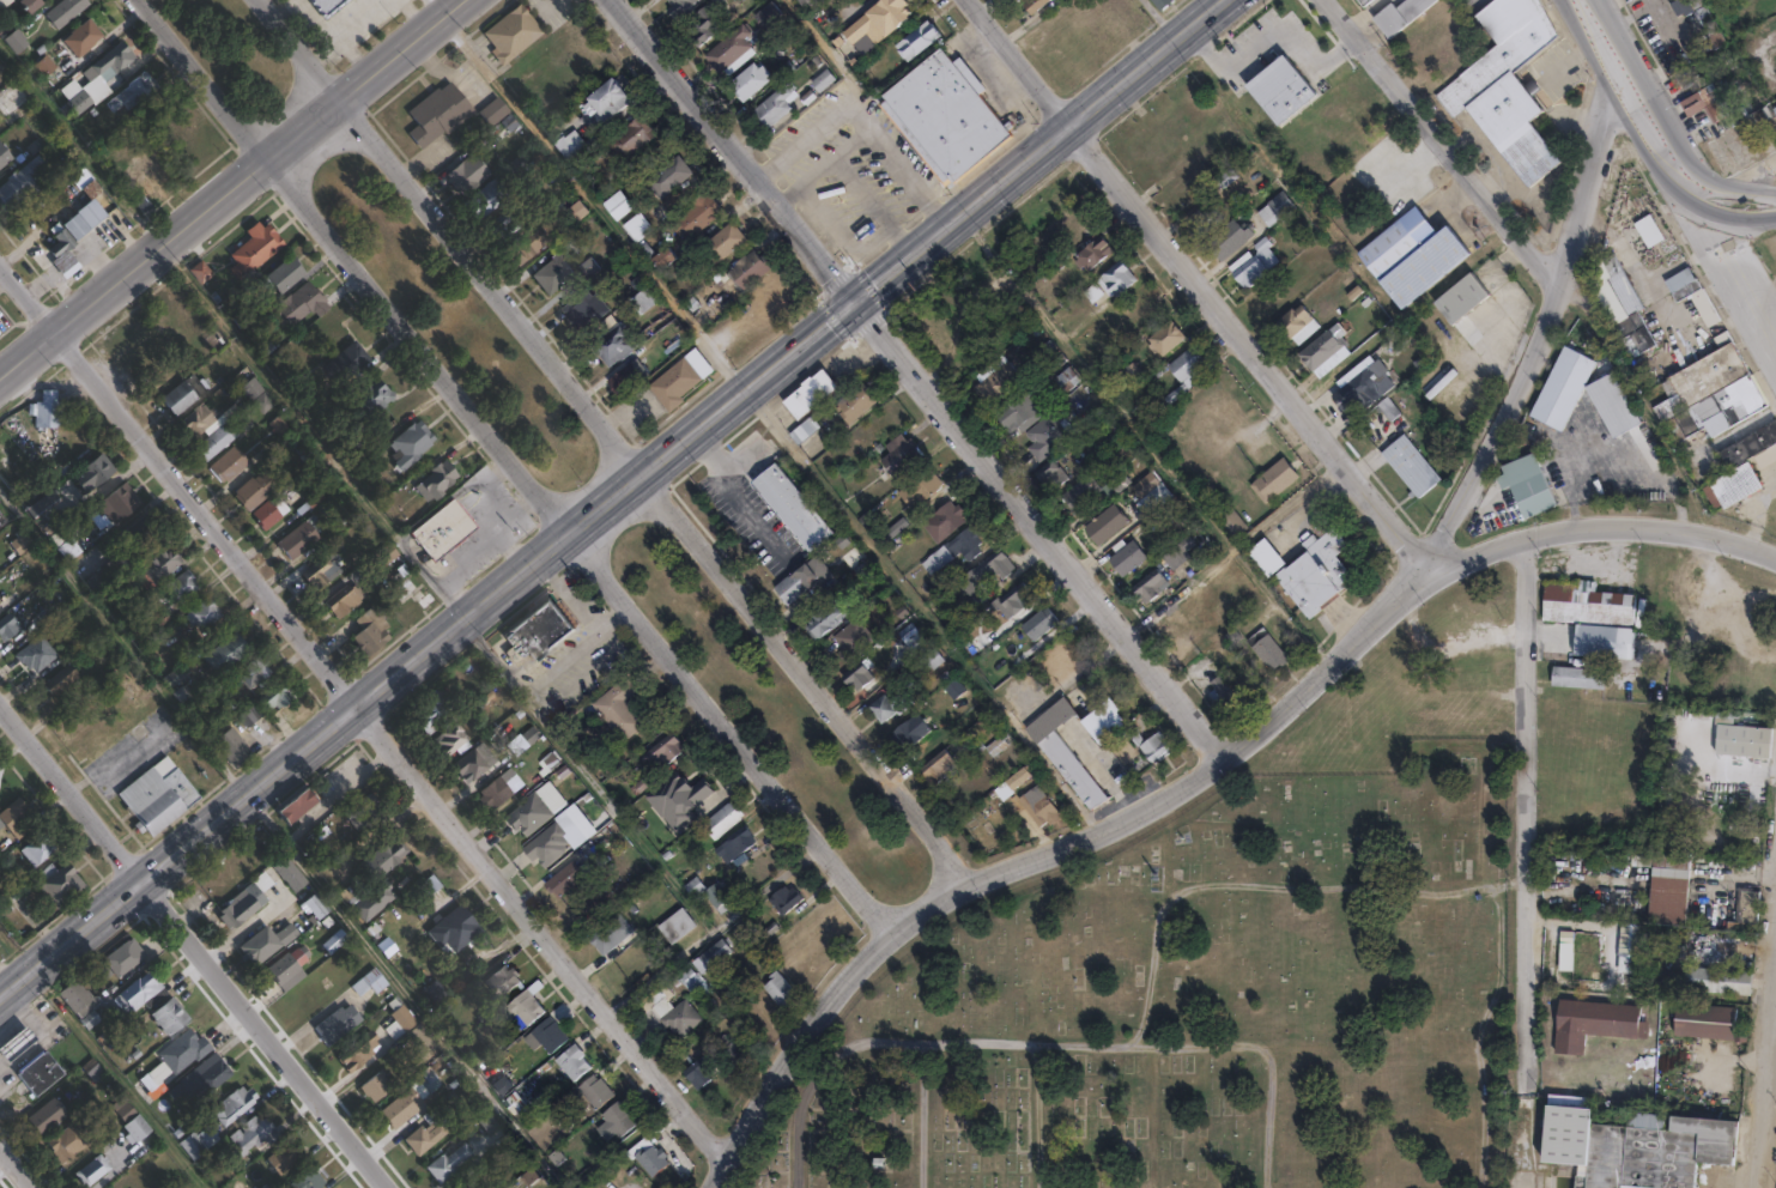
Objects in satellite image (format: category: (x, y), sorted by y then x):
building: (804, 0)
building: (856, 2)
building: (1366, 2)
building: (5, 4)
building: (31, 5)
building: (331, 5)
building: (1030, 6)
building: (1157, 6)
building: (677, 8)
building: (812, 10)
building: (67, 11)
building: (769, 13)
building: (1402, 16)
building: (886, 17)
building: (1703, 18)
building: (0, 23)
building: (771, 25)
building: (704, 28)
building: (515, 32)
road: (1269, 34)
building: (84, 37)
building: (17, 42)
building: (913, 44)
park: (230, 50)
road: (402, 50)
building: (56, 53)
building: (727, 55)
building: (115, 60)
building: (817, 80)
building: (746, 85)
building: (1505, 87)
building: (1279, 89)
building: (134, 92)
building: (606, 96)
building: (12, 97)
building: (1697, 97)
building: (74, 98)
road: (1633, 98)
building: (1770, 105)
building: (495, 111)
building: (771, 111)
building: (440, 114)
building: (942, 116)
road: (865, 127)
building: (625, 137)
building: (559, 140)
road: (1444, 145)
building: (5, 156)
road: (824, 166)
road: (1408, 166)
building: (662, 174)
building: (471, 175)
road: (1751, 176)
building: (144, 180)
building: (23, 187)
road: (1730, 198)
building: (487, 199)
building: (617, 204)
building: (1267, 204)
building: (560, 206)
road: (872, 208)
building: (695, 210)
road: (1444, 210)
building: (92, 213)
building: (1204, 216)
building: (77, 226)
building: (505, 226)
building: (638, 229)
building: (1648, 231)
road: (937, 237)
road: (170, 238)
road: (453, 238)
building: (716, 238)
building: (1226, 238)
building: (528, 244)
building: (1085, 247)
building: (256, 249)
building: (65, 251)
building: (1096, 251)
building: (659, 254)
building: (1412, 254)
building: (1255, 262)
building: (581, 263)
building: (742, 266)
building: (1108, 271)
building: (202, 272)
road: (346, 273)
road: (1732, 273)
building: (287, 274)
building: (556, 274)
building: (1674, 274)
road: (1199, 287)
building: (1693, 297)
building: (1462, 298)
building: (1617, 299)
building: (686, 303)
building: (302, 304)
building: (577, 307)
building: (244, 317)
park: (451, 321)
building: (1292, 325)
road: (1544, 333)
building: (1166, 338)
building: (607, 341)
building: (1320, 351)
building: (348, 363)
building: (1186, 363)
building: (619, 375)
building: (1061, 375)
building: (672, 376)
road: (922, 377)
building: (998, 382)
building: (1365, 388)
building: (806, 392)
building: (1709, 393)
building: (186, 394)
building: (257, 395)
building: (374, 398)
building: (1556, 400)
building: (853, 404)
building: (1016, 408)
building: (48, 411)
building: (199, 422)
building: (802, 430)
building: (1047, 435)
building: (216, 443)
building: (1748, 443)
building: (413, 445)
building: (291, 448)
building: (899, 454)
building: (1407, 461)
building: (230, 465)
building: (96, 472)
building: (1273, 474)
building: (1051, 475)
building: (438, 481)
building: (1119, 481)
building: (1527, 484)
building: (1734, 484)
building: (1145, 485)
building: (925, 487)
building: (256, 491)
building: (1080, 493)
road: (733, 495)
building: (310, 499)
building: (1157, 499)
building: (44, 502)
building: (116, 505)
building: (792, 508)
road: (517, 509)
road: (604, 511)
building: (271, 513)
building: (1231, 516)
building: (2, 517)
building: (942, 520)
building: (1107, 525)
road: (1601, 527)
building: (444, 529)
building: (299, 539)
building: (22, 543)
building: (66, 543)
road: (484, 545)
building: (952, 548)
building: (126, 550)
building: (1260, 553)
building: (1177, 556)
building: (1128, 559)
building: (158, 565)
building: (990, 568)
building: (1314, 568)
building: (325, 569)
building: (790, 582)
building: (182, 586)
building: (1151, 586)
building: (414, 592)
building: (347, 599)
building: (0, 600)
building: (1013, 601)
building: (1592, 601)
building: (204, 614)
building: (822, 617)
building: (1043, 623)
building: (8, 625)
building: (372, 630)
building: (533, 634)
building: (853, 638)
building: (1590, 638)
building: (1261, 647)
building: (36, 654)
building: (225, 654)
building: (255, 671)
building: (1581, 674)
building: (859, 675)
building: (175, 677)
road: (806, 680)
building: (952, 684)
building: (65, 685)
building: (1216, 690)
building: (278, 695)
building: (892, 697)
building: (431, 710)
building: (619, 711)
park: (769, 713)
building: (251, 715)
road: (363, 715)
building: (910, 731)
building: (451, 738)
building: (1746, 739)
building: (1092, 740)
road: (727, 741)
building: (988, 741)
building: (234, 746)
building: (669, 752)
building: (472, 765)
building: (937, 765)
road: (280, 771)
building: (496, 793)
building: (159, 799)
building: (679, 799)
building: (301, 805)
building: (1034, 805)
building: (365, 807)
building: (533, 813)
road: (1523, 817)
building: (18, 818)
building: (723, 820)
building: (596, 843)
building: (546, 847)
building: (735, 848)
building: (40, 849)
road: (1043, 856)
building: (384, 860)
building: (291, 874)
building: (570, 878)
building: (1667, 884)
building: (61, 885)
building: (695, 890)
building: (719, 898)
building: (784, 898)
building: (247, 901)
building: (317, 905)
building: (1733, 907)
building: (368, 908)
building: (1747, 908)
building: (675, 927)
building: (455, 929)
building: (616, 934)
building: (1619, 937)
building: (268, 942)
road: (195, 944)
building: (1630, 947)
building: (1566, 950)
building: (126, 957)
building: (710, 957)
building: (290, 968)
building: (1714, 978)
building: (687, 980)
building: (505, 982)
building: (370, 986)
building: (778, 990)
building: (435, 992)
building: (78, 996)
building: (134, 998)
building: (529, 1006)
park: (1199, 1008)
building: (170, 1016)
building: (405, 1018)
building: (675, 1018)
building: (1583, 1019)
building: (1704, 1022)
building: (339, 1024)
building: (548, 1036)
building: (424, 1037)
building: (19, 1042)
road: (1044, 1043)
building: (184, 1050)
building: (358, 1050)
building: (727, 1050)
building: (577, 1062)
building: (93, 1069)
building: (693, 1071)
building: (44, 1072)
building: (202, 1080)
building: (377, 1086)
road: (1768, 1090)
building: (448, 1092)
building: (600, 1092)
building: (235, 1105)
building: (406, 1105)
building: (125, 1109)
building: (50, 1114)
road: (923, 1115)
road: (1039, 1115)
building: (622, 1120)
building: (139, 1128)
building: (430, 1132)
building: (254, 1134)
road: (1520, 1141)
building: (69, 1142)
building: (200, 1142)
building: (1633, 1147)
building: (460, 1152)
building: (283, 1160)
building: (643, 1160)
road: (19, 1162)
building: (95, 1170)
building: (309, 1180)

